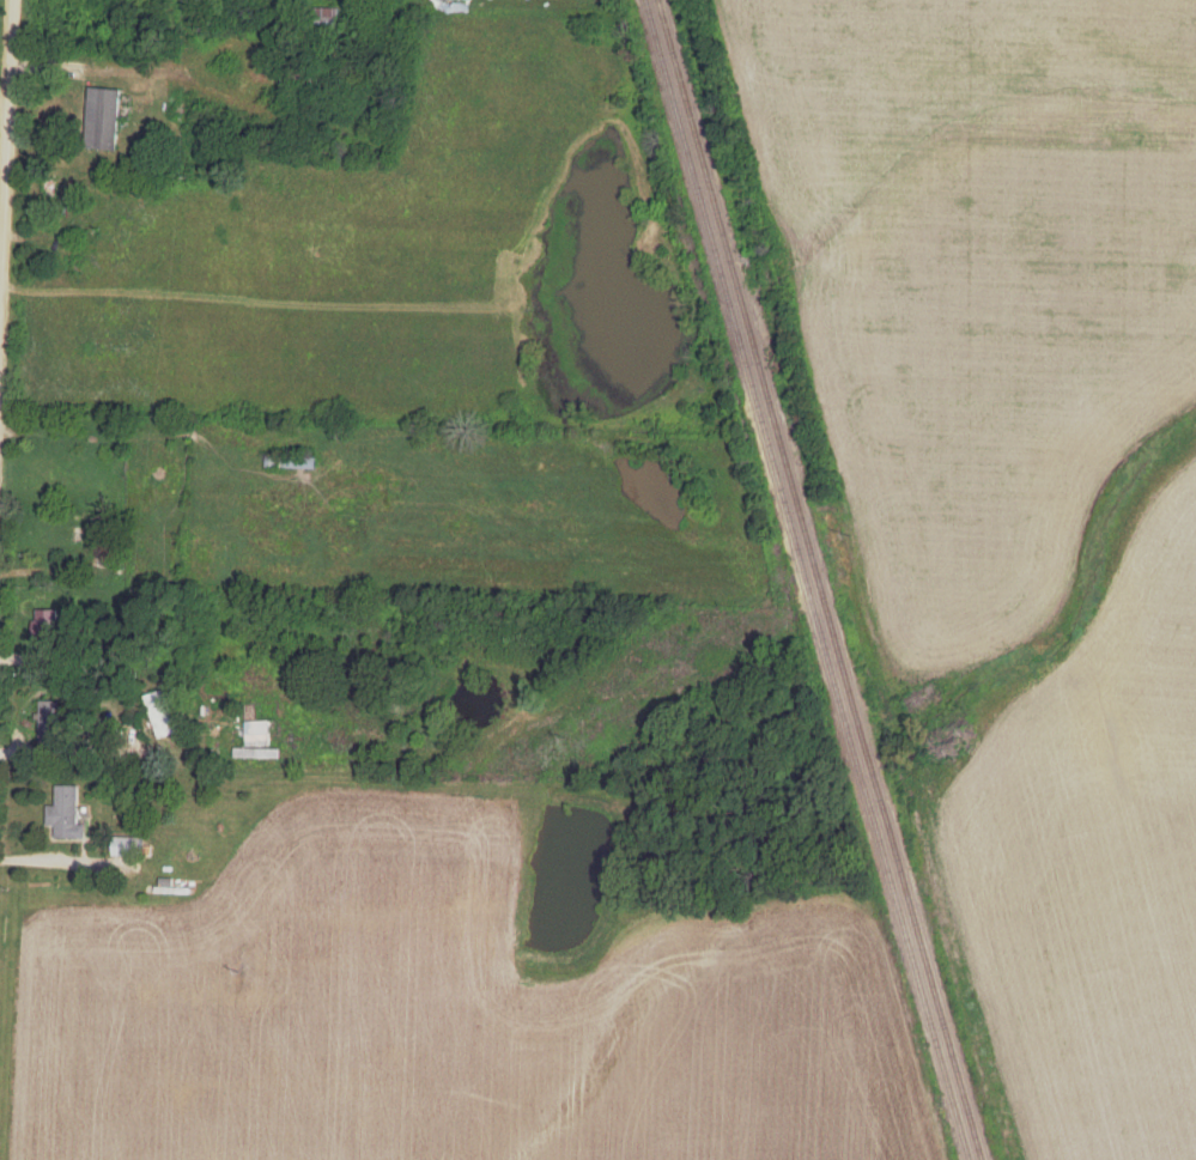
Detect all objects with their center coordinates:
building: (324, 24)
road: (91, 67)
building: (299, 81)
building: (103, 120)
road: (6, 184)
building: (291, 464)
railway: (802, 579)
railway: (816, 579)
building: (50, 625)
building: (160, 713)
building: (49, 722)
building: (256, 727)
building: (67, 814)
building: (128, 846)

